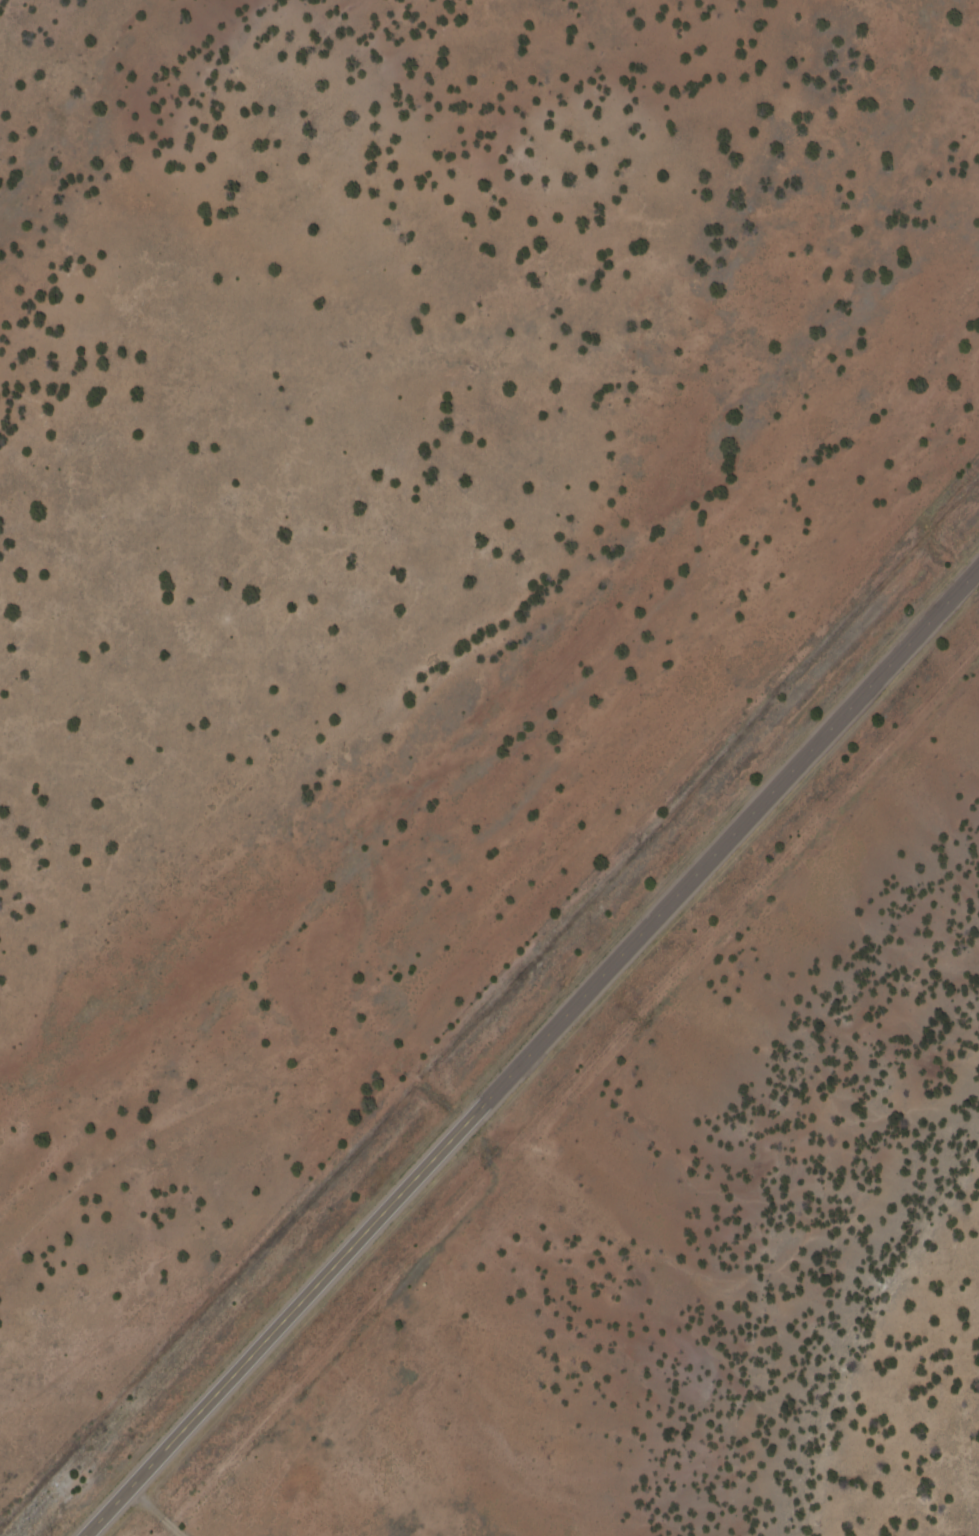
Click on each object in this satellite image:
road: (530, 1051)
road: (155, 1512)

